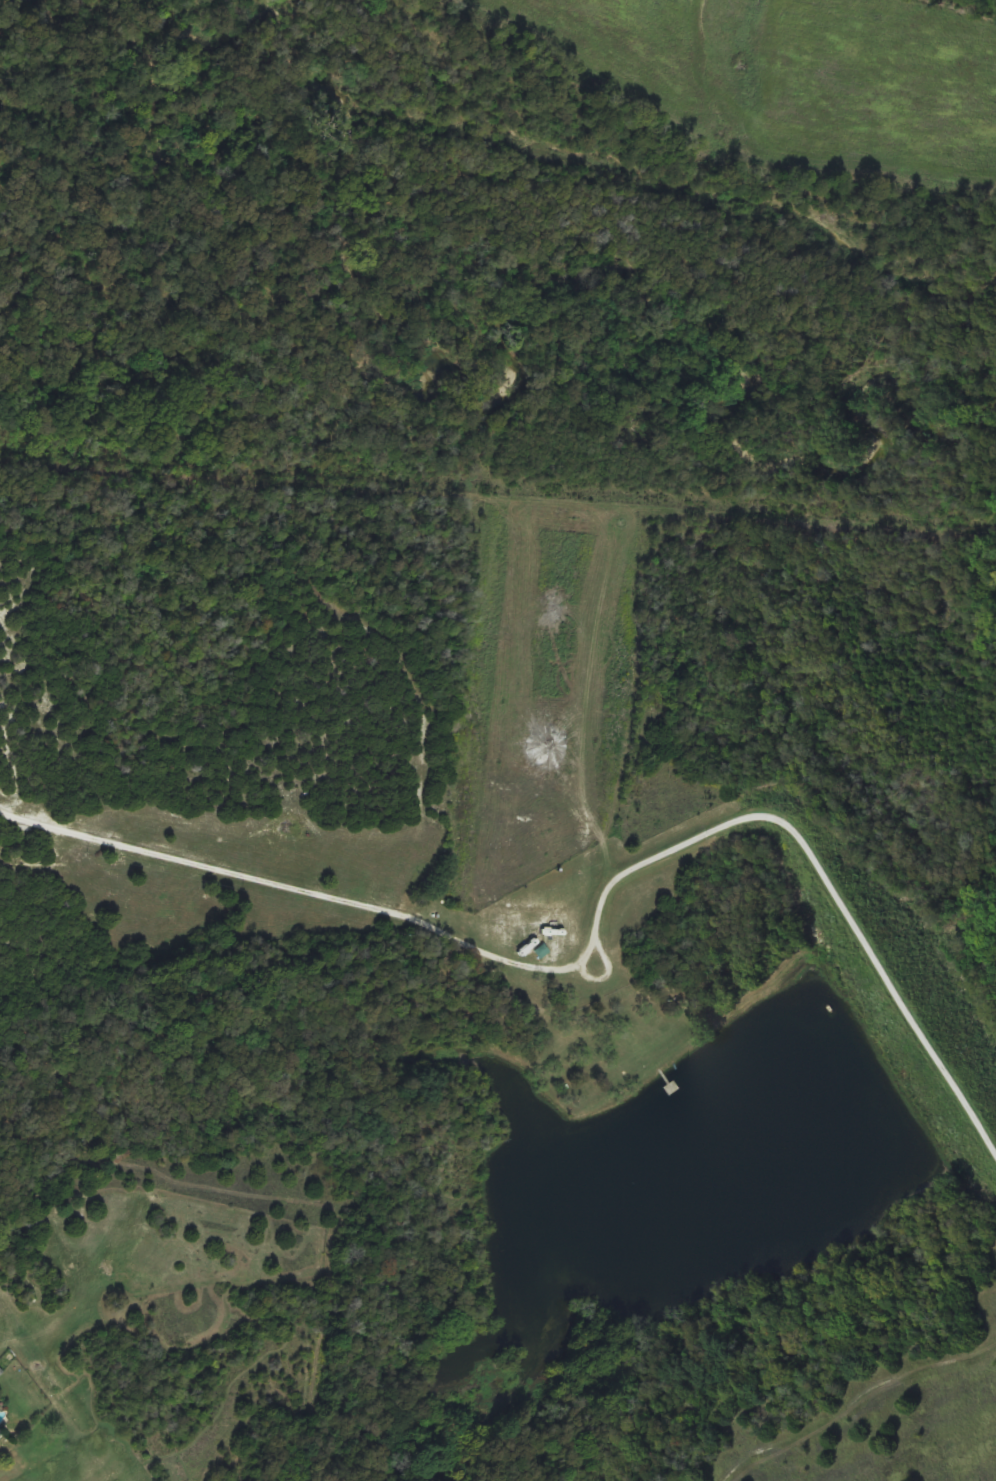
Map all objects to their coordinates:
building: (0, 1431)

